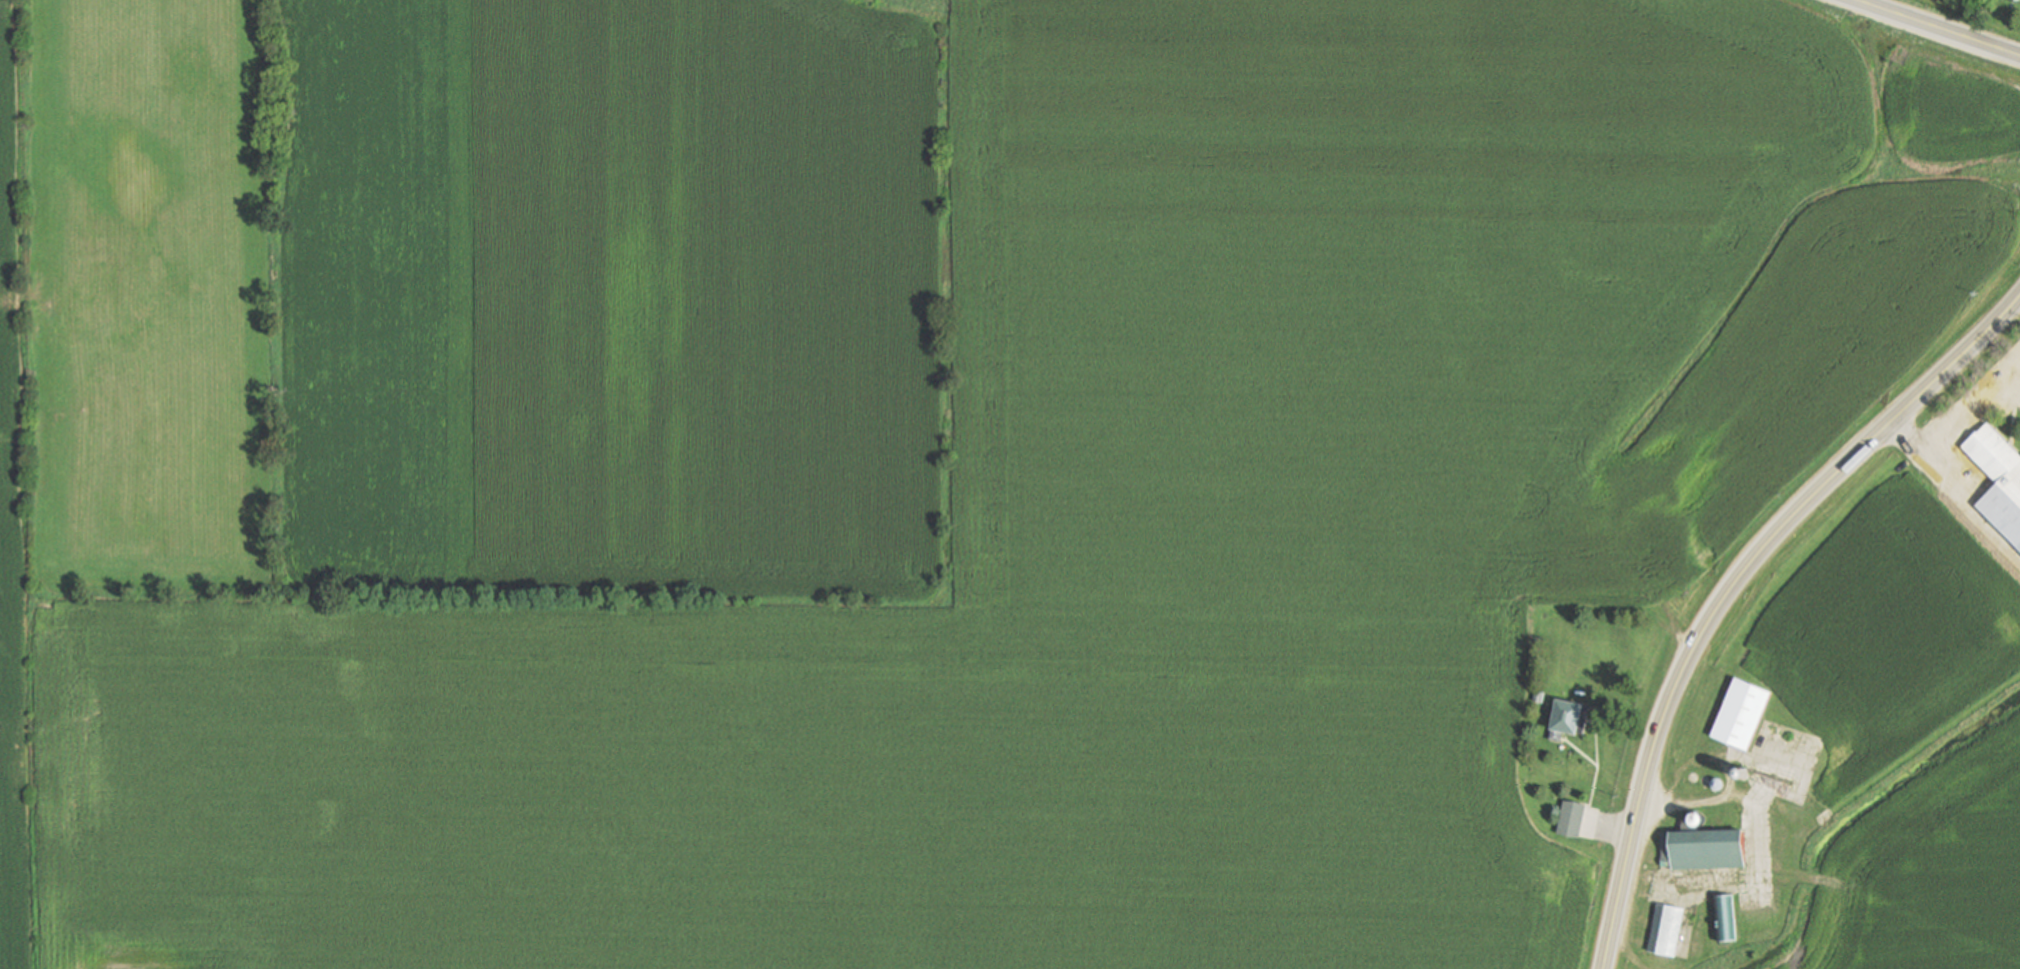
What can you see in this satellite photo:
building: (2014, 0)
road: (1939, 29)
crop: (1951, 107)
crop: (143, 287)
crop: (372, 292)
crop: (1422, 294)
crop: (706, 296)
road: (2012, 378)
parking lot: (2004, 383)
road: (2012, 384)
road: (1960, 409)
road: (1931, 452)
building: (1998, 482)
crop: (10, 551)
road: (1733, 586)
crop: (1893, 636)
building: (1539, 695)
building: (1742, 713)
building: (1569, 718)
crop: (778, 788)
building: (1572, 818)
building: (1703, 844)
crop: (1929, 872)
building: (1724, 916)
building: (1666, 929)

